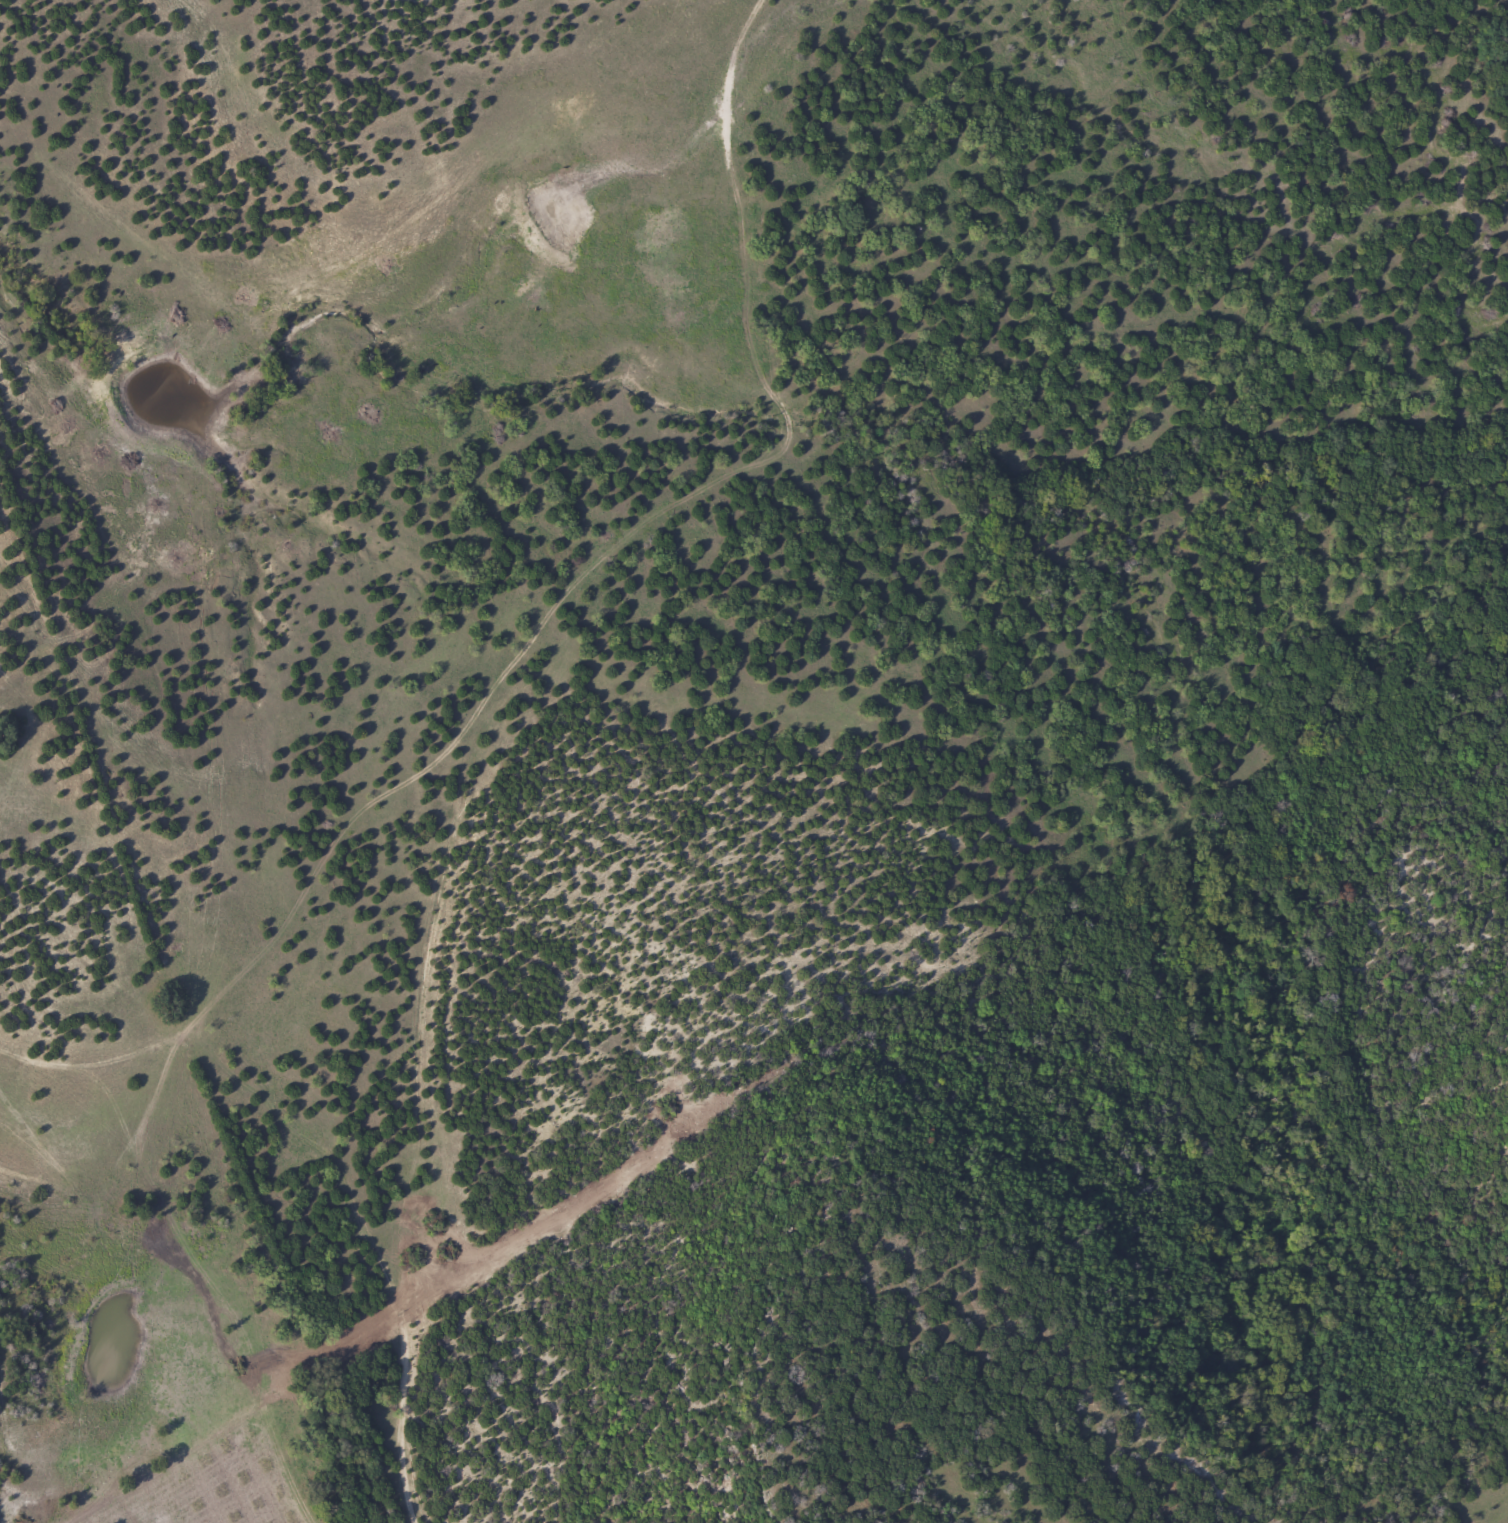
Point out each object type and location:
road: (536, 683)
road: (375, 1153)

